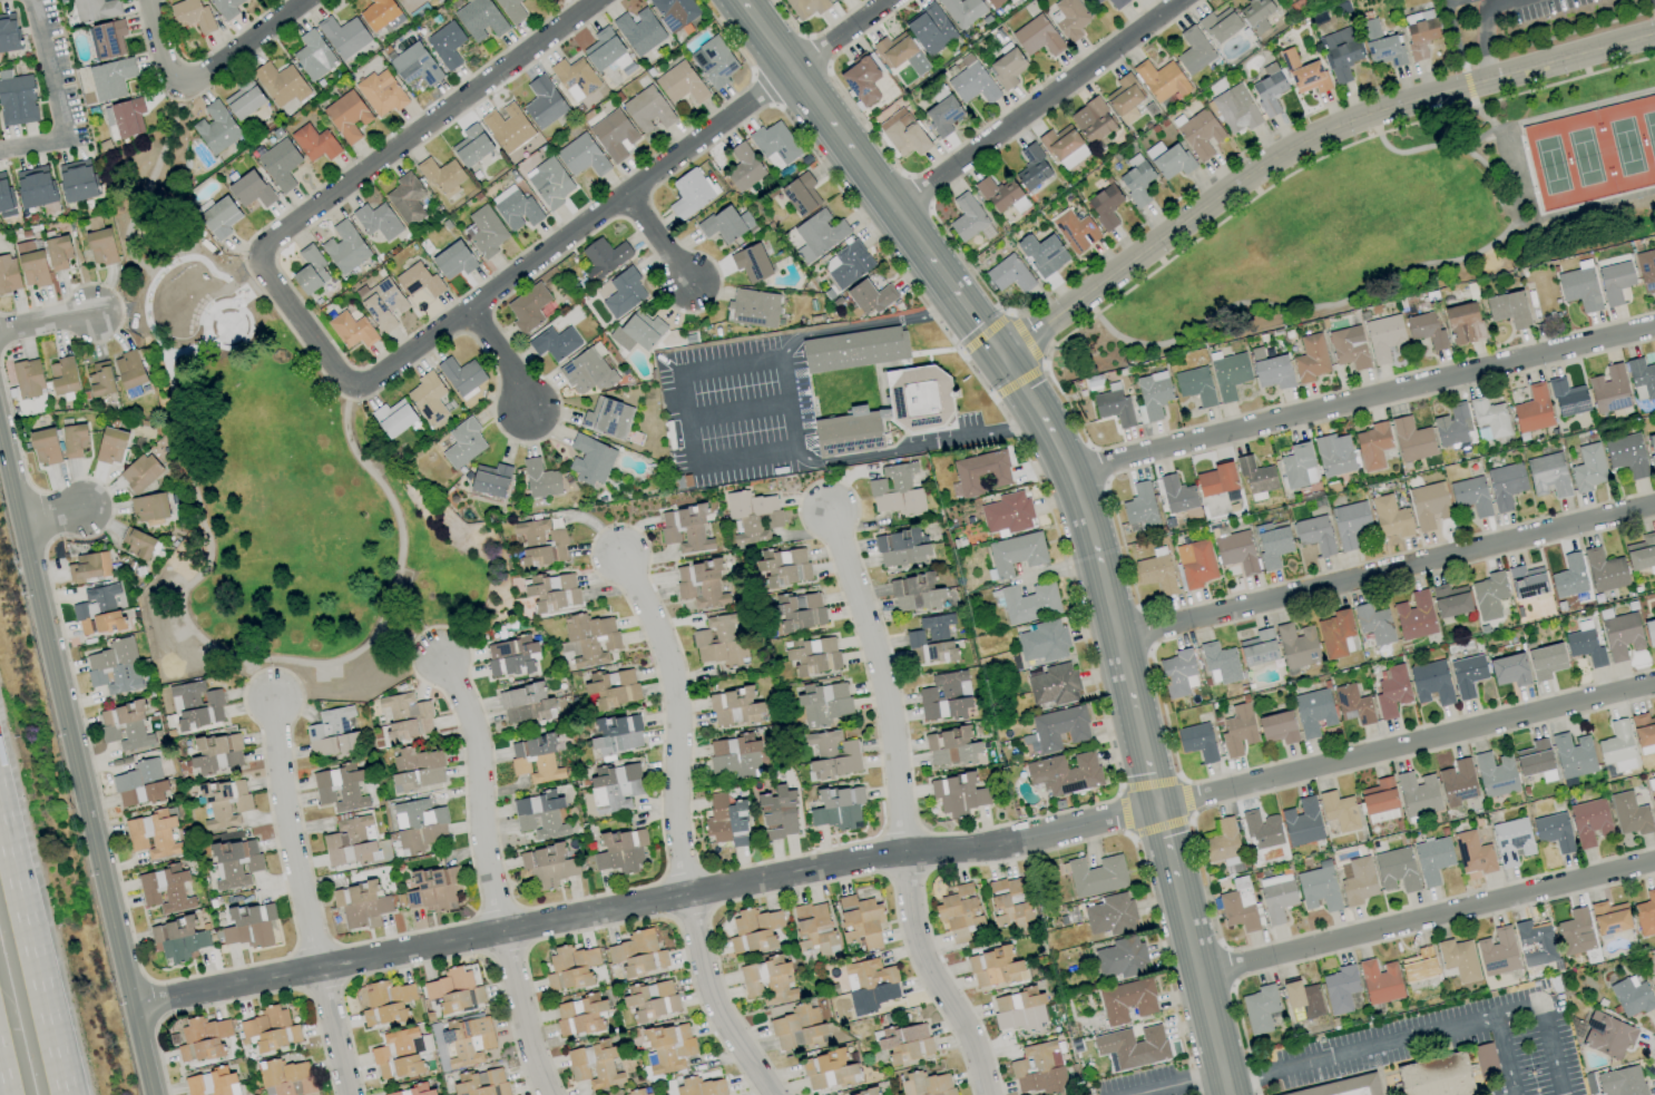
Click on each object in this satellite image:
building: (839, 0)
building: (995, 2)
building: (1094, 2)
building: (1117, 3)
road: (1458, 3)
building: (409, 4)
building: (226, 7)
building: (806, 7)
building: (95, 9)
building: (511, 10)
building: (962, 11)
building: (674, 12)
building: (379, 13)
building: (190, 14)
building: (1256, 14)
building: (1069, 19)
building: (480, 20)
park: (1524, 22)
parking lot: (1479, 23)
road: (1482, 23)
building: (1220, 25)
building: (930, 29)
building: (638, 30)
building: (1420, 32)
building: (343, 36)
building: (7, 37)
building: (1037, 37)
building: (106, 39)
road: (166, 45)
road: (239, 45)
building: (447, 45)
building: (1381, 45)
building: (604, 50)
building: (1194, 50)
building: (1340, 52)
building: (900, 53)
building: (313, 55)
building: (714, 61)
building: (414, 65)
road: (50, 68)
building: (1008, 68)
road: (1462, 68)
building: (1304, 74)
building: (110, 78)
building: (575, 78)
building: (862, 80)
building: (1161, 80)
building: (972, 81)
building: (281, 84)
building: (680, 84)
building: (1269, 89)
building: (381, 92)
building: (244, 98)
building: (16, 99)
building: (1125, 99)
building: (542, 102)
road: (1039, 106)
road: (1558, 107)
building: (1235, 109)
building: (648, 110)
building: (347, 116)
building: (942, 116)
building: (127, 117)
building: (1093, 120)
building: (215, 127)
building: (507, 127)
building: (903, 134)
building: (1201, 134)
building: (614, 135)
road: (32, 143)
building: (314, 143)
building: (471, 145)
building: (775, 145)
road: (1301, 146)
building: (1064, 147)
road: (1457, 147)
park: (1593, 149)
road: (854, 155)
road: (1518, 155)
building: (581, 156)
building: (1169, 159)
building: (280, 164)
building: (743, 167)
building: (1032, 168)
road: (361, 174)
building: (441, 176)
building: (1136, 179)
building: (78, 180)
building: (549, 182)
road: (149, 185)
building: (35, 186)
building: (251, 189)
building: (691, 193)
road: (621, 194)
building: (801, 194)
building: (1000, 195)
building: (6, 197)
building: (405, 198)
building: (1105, 206)
building: (516, 208)
park: (1410, 211)
road: (1233, 212)
building: (219, 217)
building: (967, 217)
building: (376, 221)
building: (726, 224)
building: (1075, 231)
building: (484, 232)
building: (819, 235)
road: (656, 239)
building: (100, 246)
building: (344, 247)
building: (58, 253)
building: (1042, 254)
building: (604, 257)
building: (453, 261)
building: (32, 263)
building: (752, 263)
building: (848, 264)
building: (1646, 268)
building: (310, 270)
road: (170, 273)
building: (8, 274)
building: (1009, 274)
building: (419, 281)
building: (1614, 281)
building: (1579, 287)
road: (1367, 290)
building: (624, 293)
building: (870, 296)
building: (382, 304)
building: (528, 307)
building: (753, 307)
building: (1509, 309)
road: (46, 323)
building: (1463, 323)
road: (1618, 324)
road: (1598, 329)
building: (351, 330)
building: (1426, 330)
building: (638, 331)
road: (982, 334)
building: (1383, 336)
road: (1545, 342)
building: (555, 343)
road: (1528, 345)
road: (1629, 346)
building: (1349, 348)
building: (855, 349)
road: (1610, 351)
road: (1478, 358)
building: (1310, 359)
road: (501, 361)
road: (1549, 365)
building: (129, 369)
building: (1271, 370)
road: (1529, 370)
building: (587, 372)
building: (62, 375)
building: (1228, 375)
building: (1642, 375)
building: (462, 377)
building: (27, 379)
building: (100, 380)
building: (1195, 385)
building: (1609, 389)
building: (1153, 394)
building: (1567, 397)
building: (428, 398)
road: (1359, 399)
building: (1114, 408)
road: (741, 410)
building: (1532, 410)
building: (891, 412)
road: (1034, 413)
road: (689, 417)
building: (1489, 417)
building: (607, 418)
building: (393, 419)
building: (1452, 424)
road: (796, 429)
building: (74, 440)
building: (1412, 440)
building: (463, 443)
building: (111, 446)
building: (1372, 446)
building: (45, 447)
building: (1652, 451)
building: (1334, 454)
building: (1626, 454)
building: (589, 460)
building: (1299, 467)
building: (1587, 468)
building: (140, 472)
building: (982, 472)
park: (278, 475)
building: (1256, 475)
building: (1547, 475)
road: (11, 476)
building: (490, 479)
building: (540, 479)
building: (1216, 480)
building: (1506, 485)
building: (897, 490)
road: (1642, 492)
building: (1176, 495)
building: (1470, 496)
road: (1592, 505)
building: (1429, 506)
building: (149, 507)
building: (1139, 508)
road: (1564, 511)
building: (1007, 514)
road: (51, 516)
building: (753, 516)
building: (1390, 517)
road: (1642, 518)
road: (1116, 527)
building: (685, 529)
road: (1587, 531)
building: (1314, 534)
building: (138, 542)
building: (541, 542)
building: (1272, 544)
building: (901, 548)
building: (1235, 550)
building: (1642, 551)
building: (1016, 553)
building: (1195, 564)
building: (89, 566)
building: (784, 567)
road: (1385, 569)
building: (1604, 569)
building: (1156, 574)
building: (1568, 576)
building: (1527, 581)
building: (701, 584)
building: (552, 592)
building: (915, 593)
building: (1489, 595)
building: (1450, 600)
building: (1029, 603)
road: (1107, 605)
building: (800, 610)
building: (98, 612)
building: (1414, 616)
building: (1373, 624)
building: (936, 626)
building: (1649, 632)
building: (1335, 634)
building: (1622, 636)
building: (590, 638)
building: (719, 641)
road: (410, 642)
building: (1044, 642)
building: (1296, 645)
building: (1585, 645)
building: (1259, 648)
building: (928, 649)
building: (814, 655)
building: (510, 656)
building: (1546, 661)
building: (1220, 664)
road: (242, 665)
building: (114, 667)
building: (1509, 669)
building: (1178, 673)
building: (1467, 675)
road: (272, 680)
road: (880, 680)
building: (1431, 683)
building: (1054, 685)
building: (613, 688)
building: (1391, 692)
building: (944, 696)
building: (823, 703)
building: (1352, 704)
building: (196, 705)
building: (527, 705)
building: (735, 707)
building: (1313, 712)
building: (407, 716)
building: (125, 726)
building: (1277, 727)
building: (1057, 729)
building: (1237, 731)
building: (1644, 732)
building: (332, 733)
building: (617, 734)
building: (1197, 741)
building: (1617, 746)
building: (952, 747)
building: (217, 753)
building: (1573, 754)
building: (833, 755)
building: (735, 756)
building: (536, 759)
building: (1536, 760)
building: (417, 770)
road: (1149, 772)
building: (1065, 773)
building: (1495, 774)
building: (1457, 782)
building: (139, 784)
building: (340, 788)
building: (615, 788)
building: (957, 793)
building: (1418, 793)
building: (1379, 796)
building: (1653, 798)
building: (223, 803)
building: (839, 808)
road: (85, 809)
building: (1339, 811)
building: (778, 813)
building: (1629, 814)
building: (539, 815)
building: (717, 819)
building: (1302, 822)
building: (1589, 822)
building: (419, 824)
building: (737, 824)
building: (1262, 829)
building: (1553, 831)
road: (677, 832)
building: (151, 834)
building: (1511, 841)
road: (1166, 842)
building: (1223, 843)
building: (620, 851)
building: (1473, 853)
road: (895, 854)
building: (1432, 859)
building: (236, 863)
building: (547, 866)
building: (1397, 870)
building: (1096, 876)
road: (489, 878)
building: (1357, 880)
building: (1319, 888)
building: (165, 889)
building: (432, 889)
building: (1276, 897)
road: (300, 899)
building: (1008, 902)
building: (360, 905)
building: (1238, 907)
building: (960, 912)
building: (1110, 915)
road: (1427, 915)
building: (1645, 915)
building: (1609, 918)
building: (860, 920)
building: (249, 926)
building: (812, 926)
building: (754, 930)
building: (1576, 932)
building: (177, 938)
building: (1535, 942)
road: (33, 950)
building: (1497, 951)
building: (637, 954)
building: (1122, 958)
building: (1458, 959)
building: (1419, 965)
building: (570, 967)
building: (995, 968)
road: (933, 977)
building: (767, 980)
building: (1380, 981)
building: (870, 985)
road: (1203, 987)
building: (1340, 989)
building: (454, 990)
building: (1632, 996)
building: (652, 1000)
building: (1126, 1000)
building: (386, 1003)
building: (1260, 1008)
building: (1019, 1009)
building: (579, 1015)
building: (271, 1028)
building: (797, 1028)
road: (1546, 1032)
building: (1607, 1035)
building: (202, 1039)
building: (468, 1040)
building: (905, 1043)
building: (1132, 1047)
road: (1382, 1047)
building: (669, 1048)
road: (1507, 1057)
building: (594, 1065)
building: (1039, 1068)
building: (827, 1070)
building: (1448, 1074)
building: (285, 1077)
road: (1246, 1082)
building: (1622, 1082)
road: (2, 1083)
building: (212, 1083)
building: (481, 1083)
road: (1177, 1083)
building: (927, 1084)
building: (1343, 1086)
building: (699, 1087)
building: (410, 1091)
building: (636, 1092)
building: (866, 1093)
road: (4, 1094)
road: (4, 1094)

